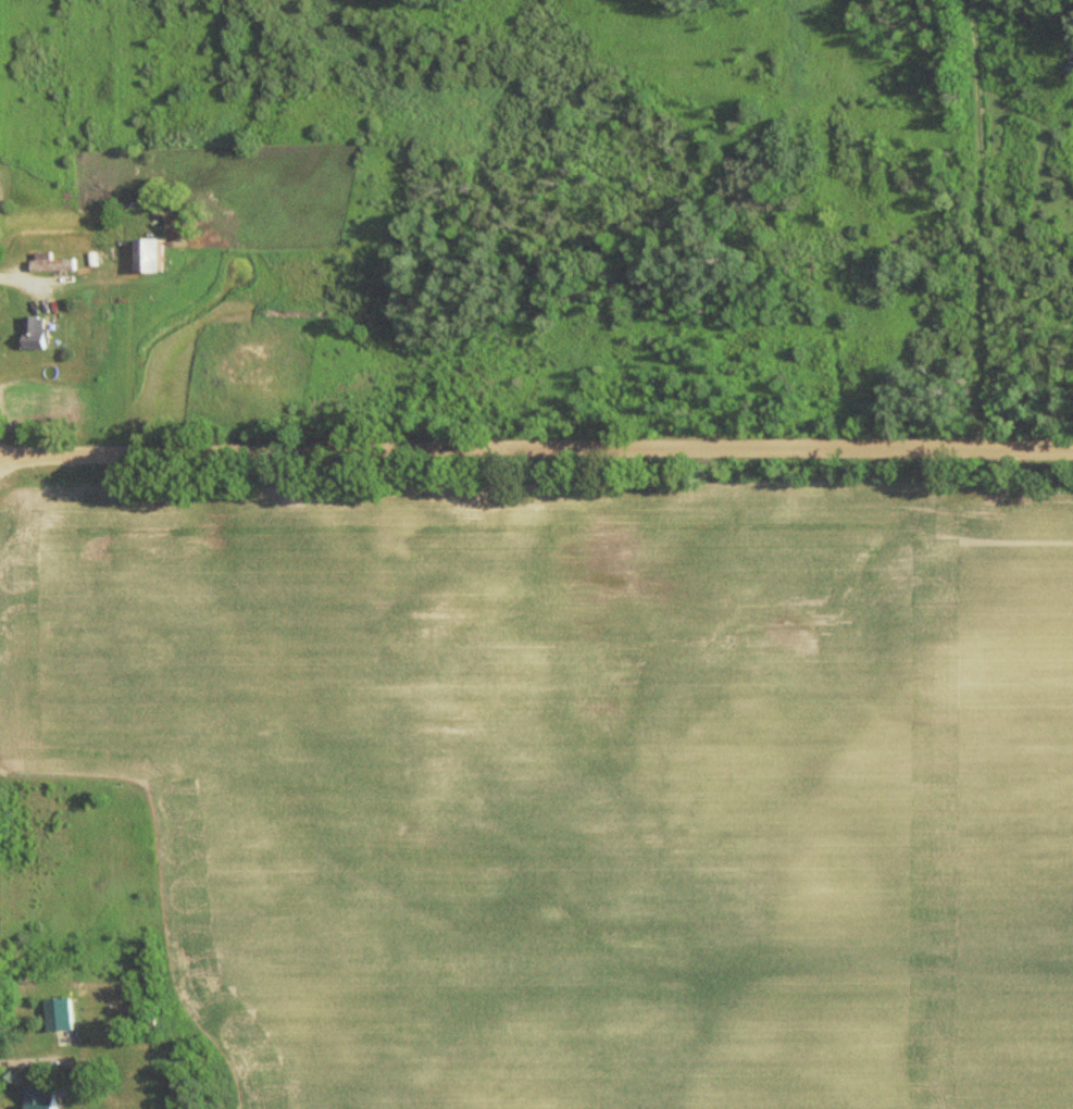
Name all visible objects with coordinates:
building: (161, 257)
building: (55, 265)
building: (43, 334)
road: (536, 429)
building: (62, 1014)
building: (190, 1064)
building: (45, 1098)

